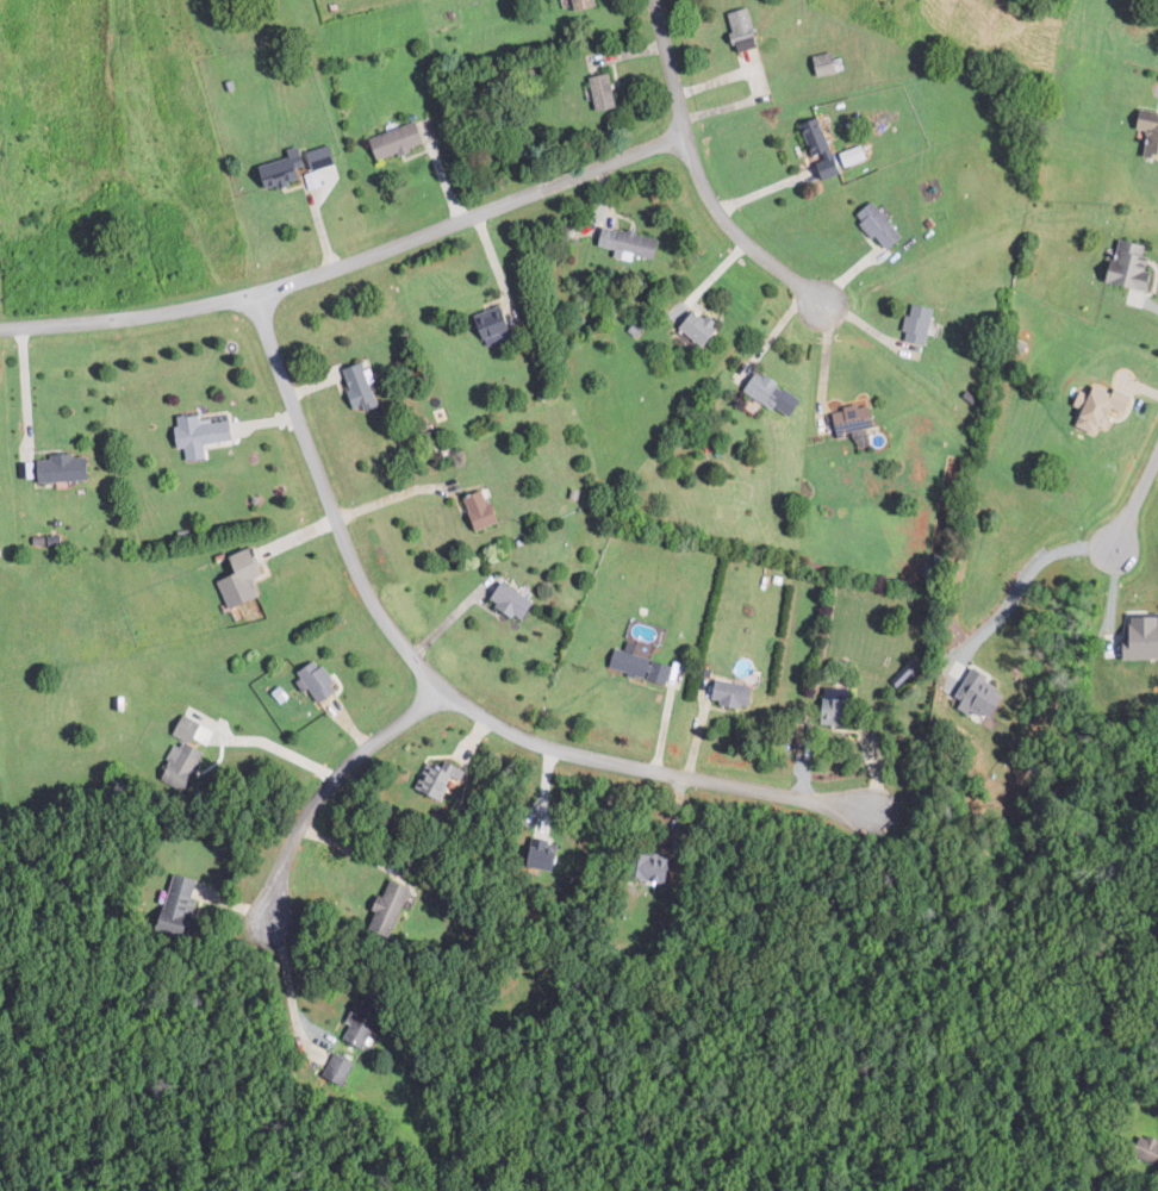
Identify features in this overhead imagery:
building: (586, 4)
building: (745, 29)
building: (827, 62)
building: (605, 91)
building: (1150, 129)
building: (399, 139)
building: (822, 146)
building: (855, 154)
building: (299, 166)
road: (698, 174)
building: (880, 224)
building: (630, 243)
road: (351, 262)
building: (1133, 266)
building: (496, 322)
building: (921, 323)
building: (701, 325)
road: (826, 357)
road: (25, 385)
building: (361, 387)
building: (774, 393)
building: (1102, 406)
building: (855, 418)
building: (203, 434)
building: (67, 468)
road: (393, 497)
road: (1135, 499)
building: (484, 509)
building: (243, 579)
road: (1023, 580)
building: (515, 599)
building: (1143, 635)
building: (641, 663)
building: (318, 680)
road: (443, 690)
building: (734, 692)
building: (984, 693)
building: (840, 709)
building: (188, 727)
road: (276, 748)
building: (183, 762)
building: (441, 777)
road: (328, 787)
building: (547, 853)
building: (659, 868)
building: (185, 902)
building: (391, 905)
road: (286, 984)
building: (366, 1022)
building: (341, 1067)

